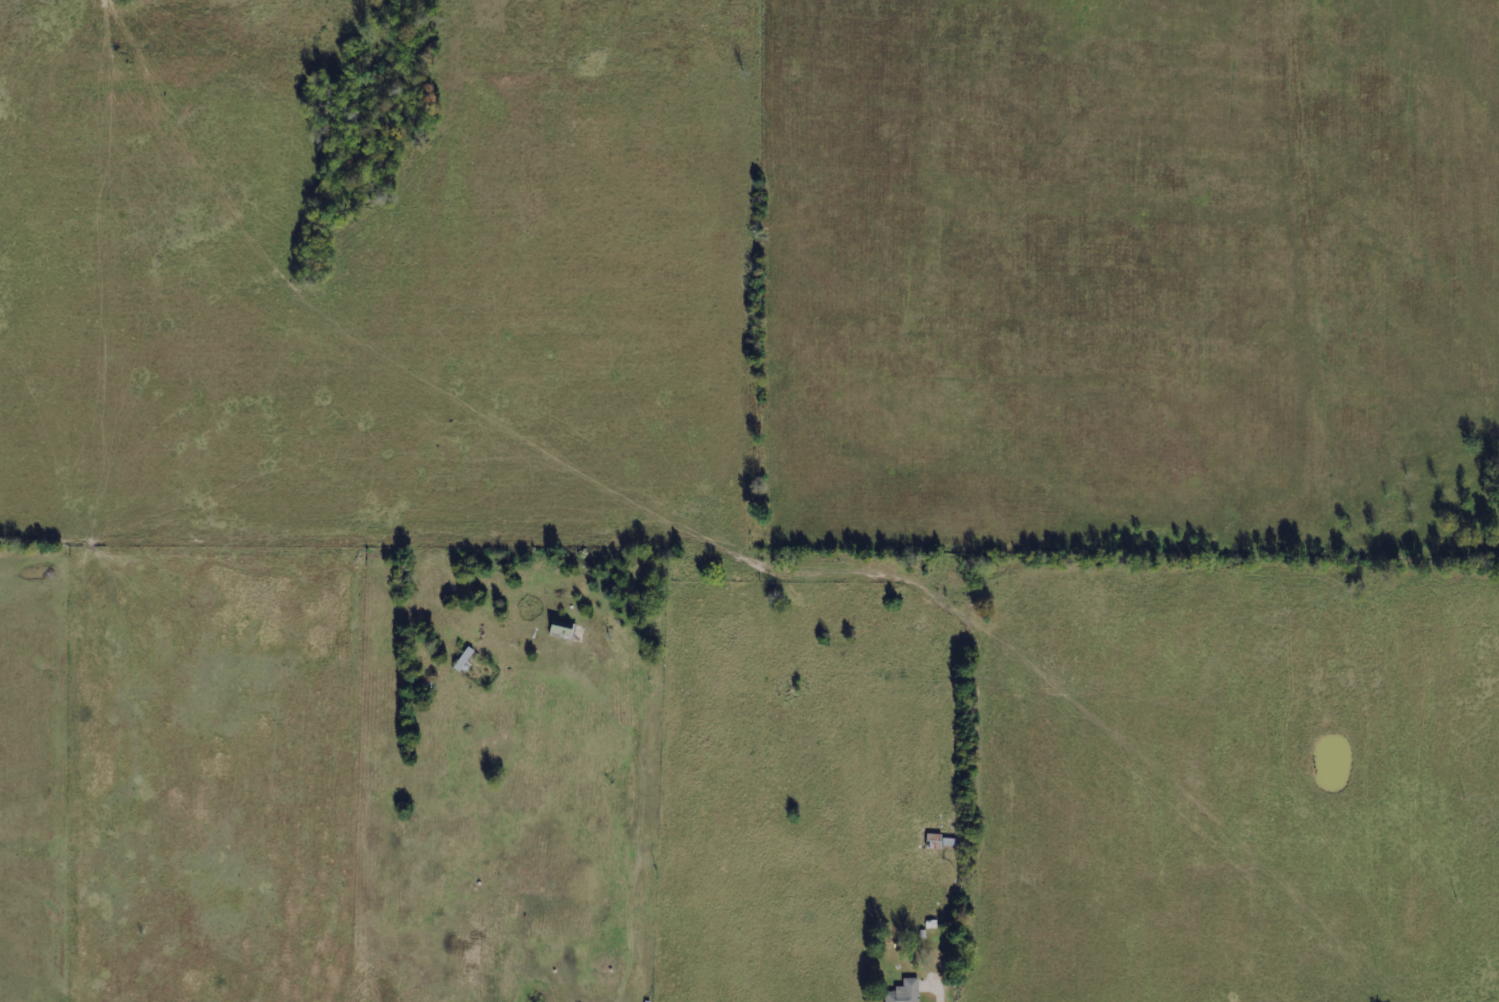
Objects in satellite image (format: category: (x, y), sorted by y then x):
building: (906, 991)

